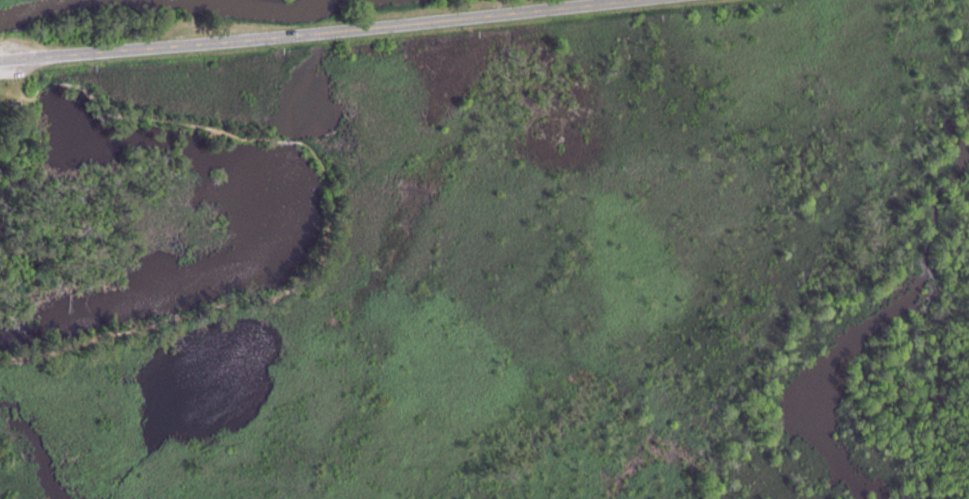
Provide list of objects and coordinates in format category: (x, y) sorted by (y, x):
road: (337, 29)
parking lot: (18, 55)
road: (133, 116)
road: (287, 141)
road: (334, 246)
road: (116, 333)

